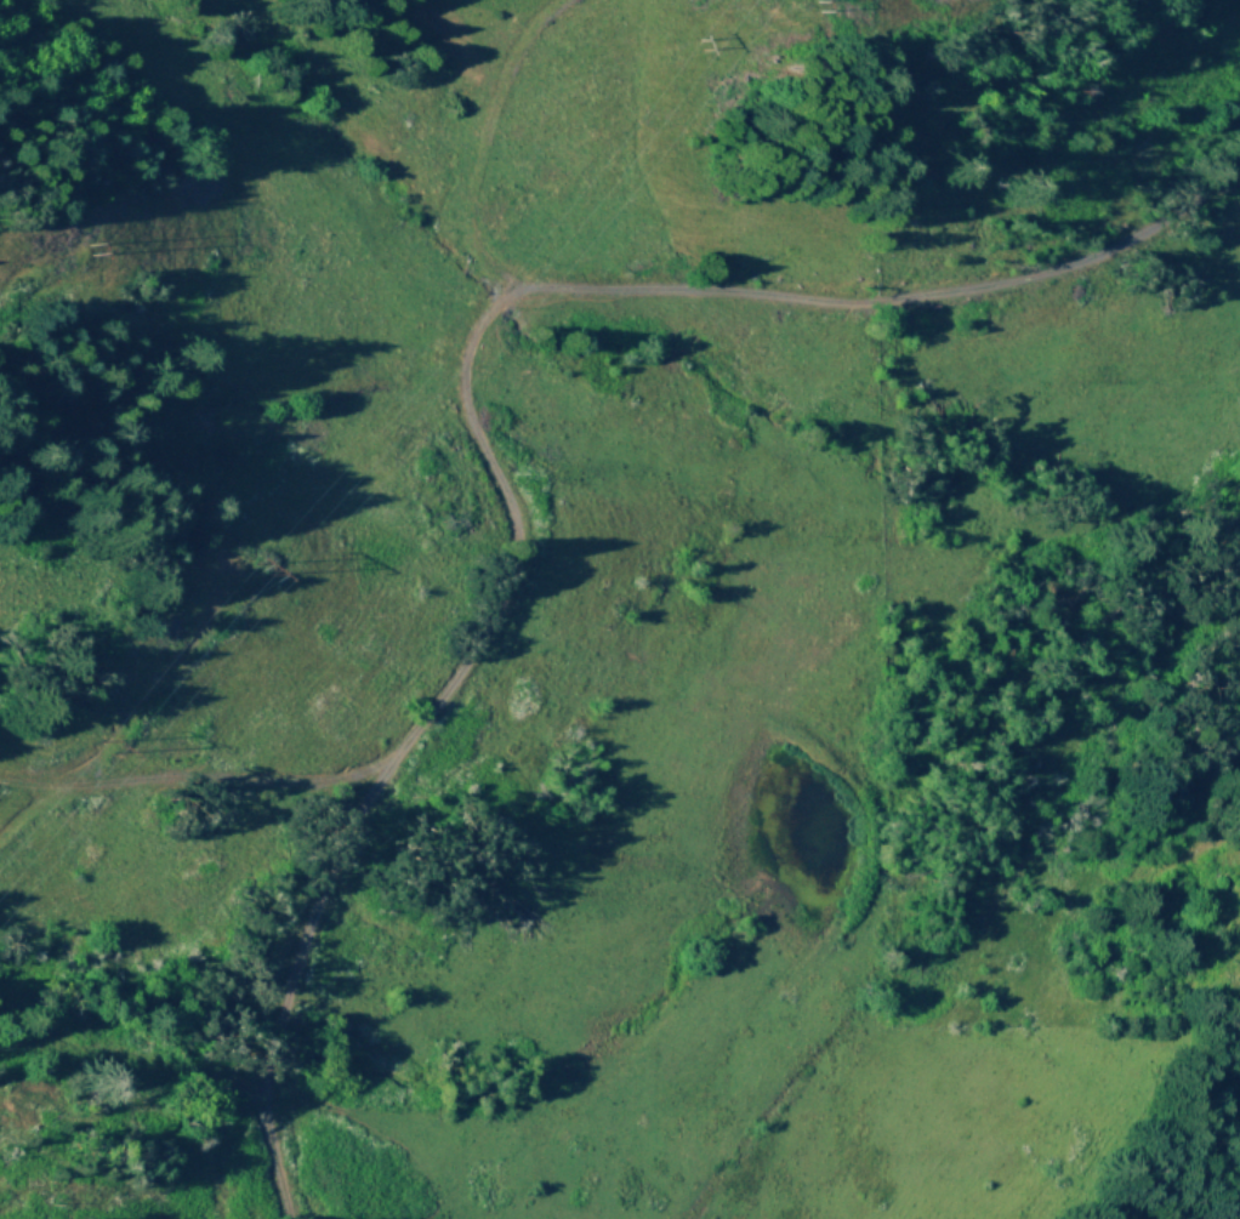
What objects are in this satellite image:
power tower: (700, 50)
power tower: (78, 247)

